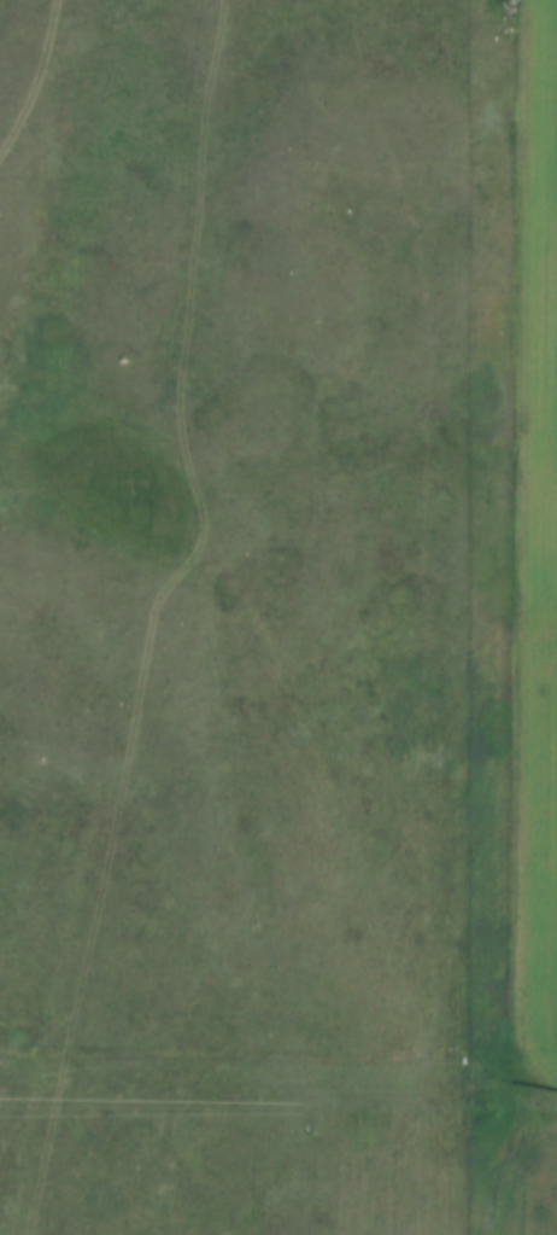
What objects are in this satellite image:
road: (68, 60)

